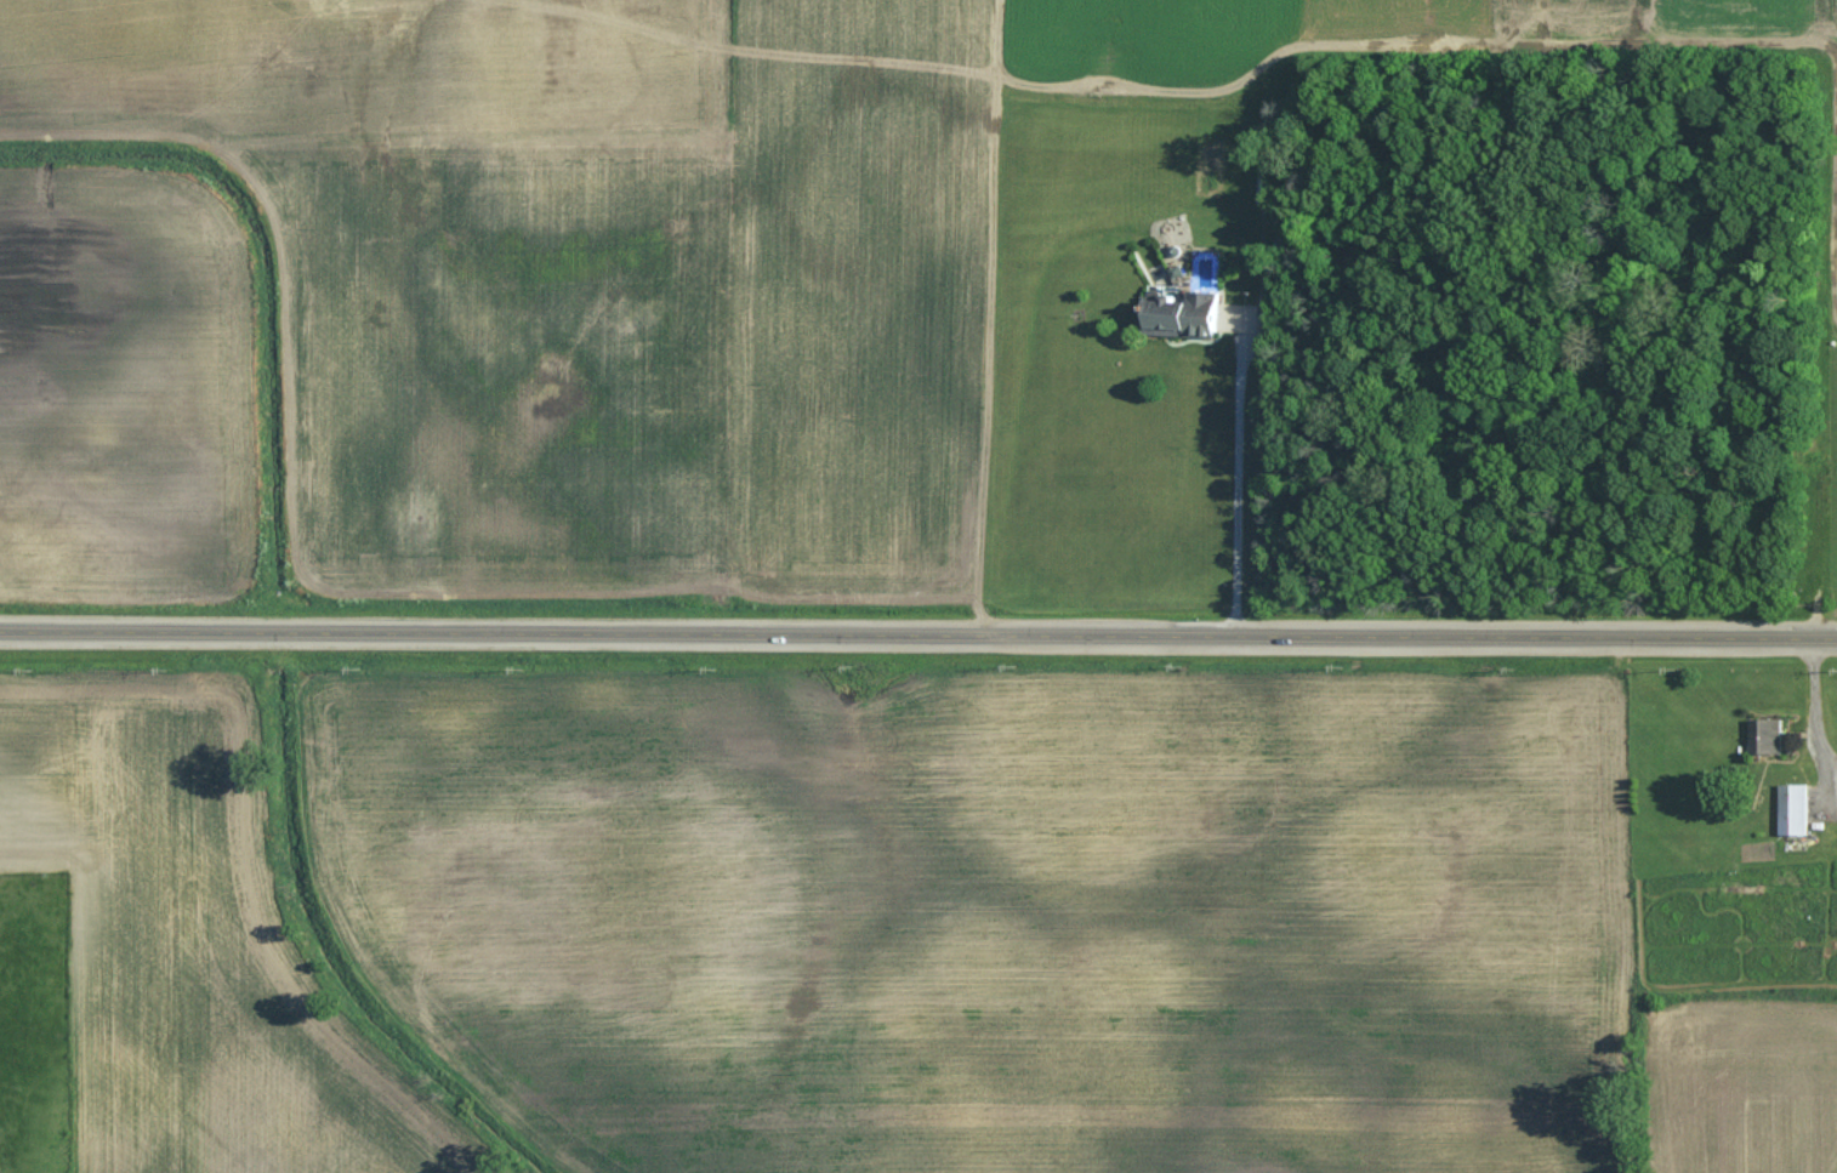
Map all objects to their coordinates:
building: (1192, 301)
road: (1236, 477)
road: (919, 633)
road: (1818, 718)
building: (1769, 736)
building: (1798, 810)

